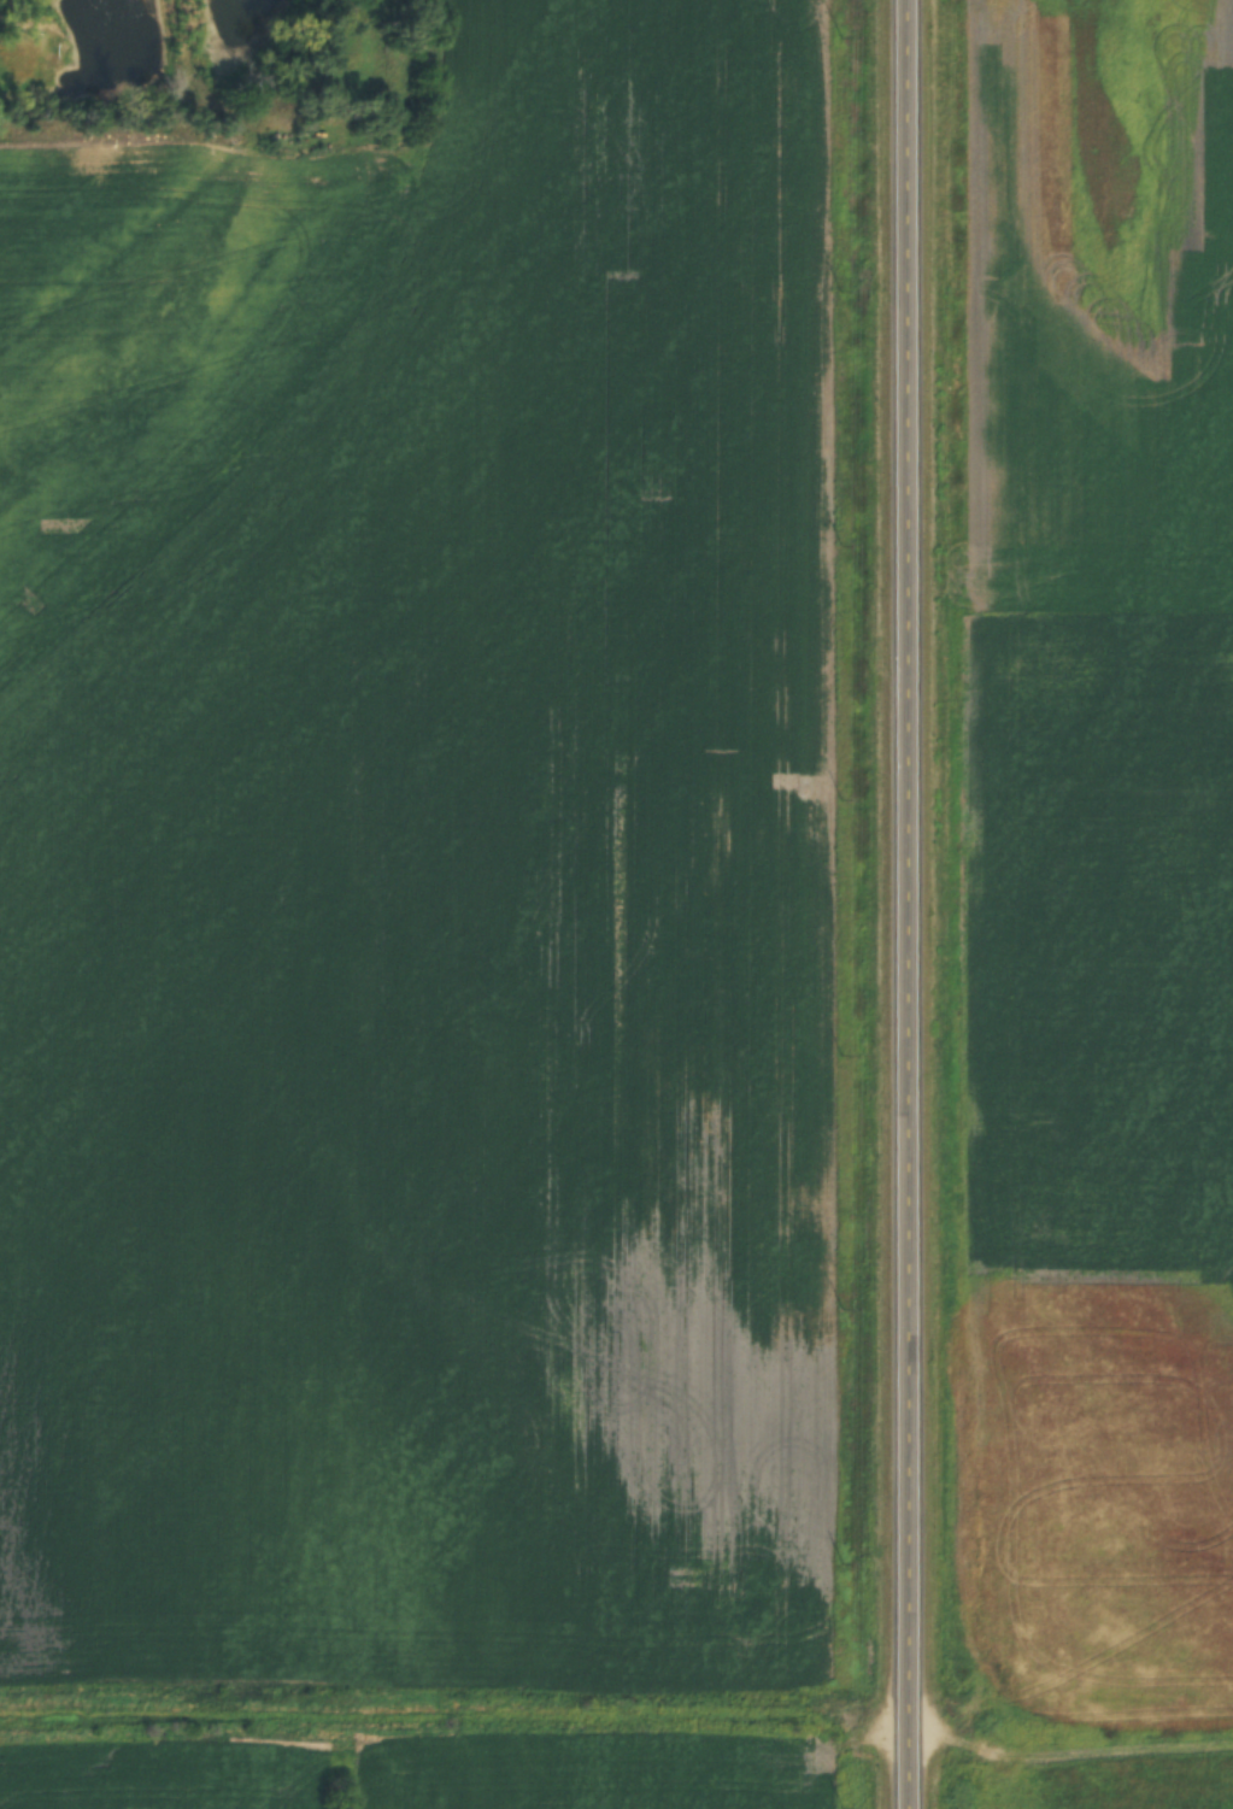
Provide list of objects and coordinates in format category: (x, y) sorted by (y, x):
road: (906, 904)

